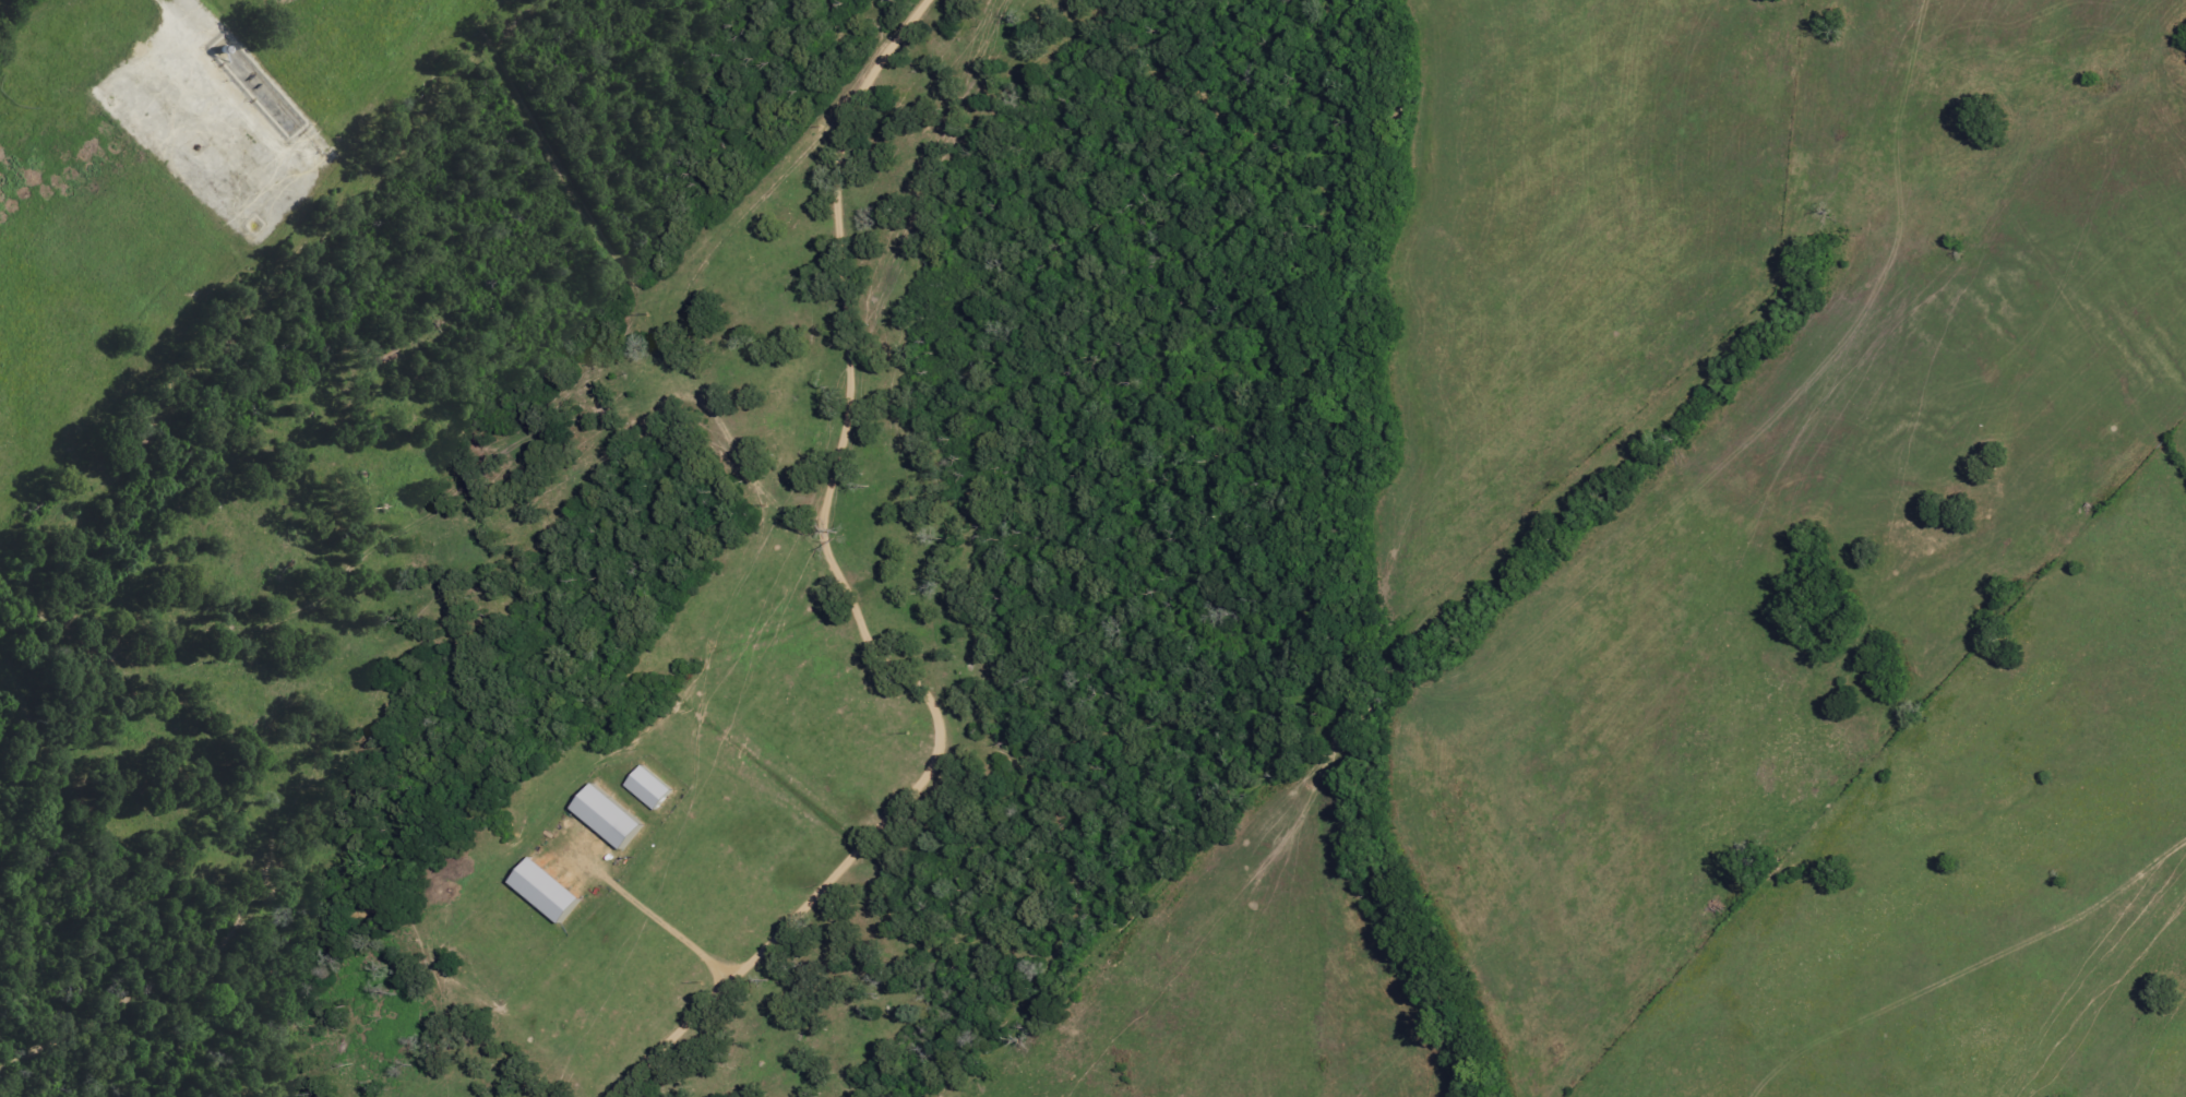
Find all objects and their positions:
road: (889, 606)
building: (653, 789)
building: (612, 818)
building: (550, 892)

